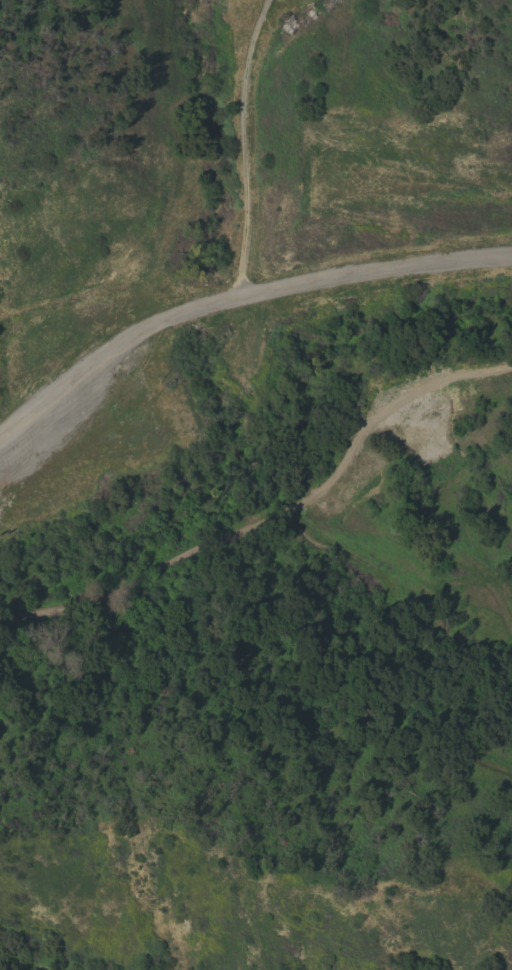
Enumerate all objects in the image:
road: (237, 300)

